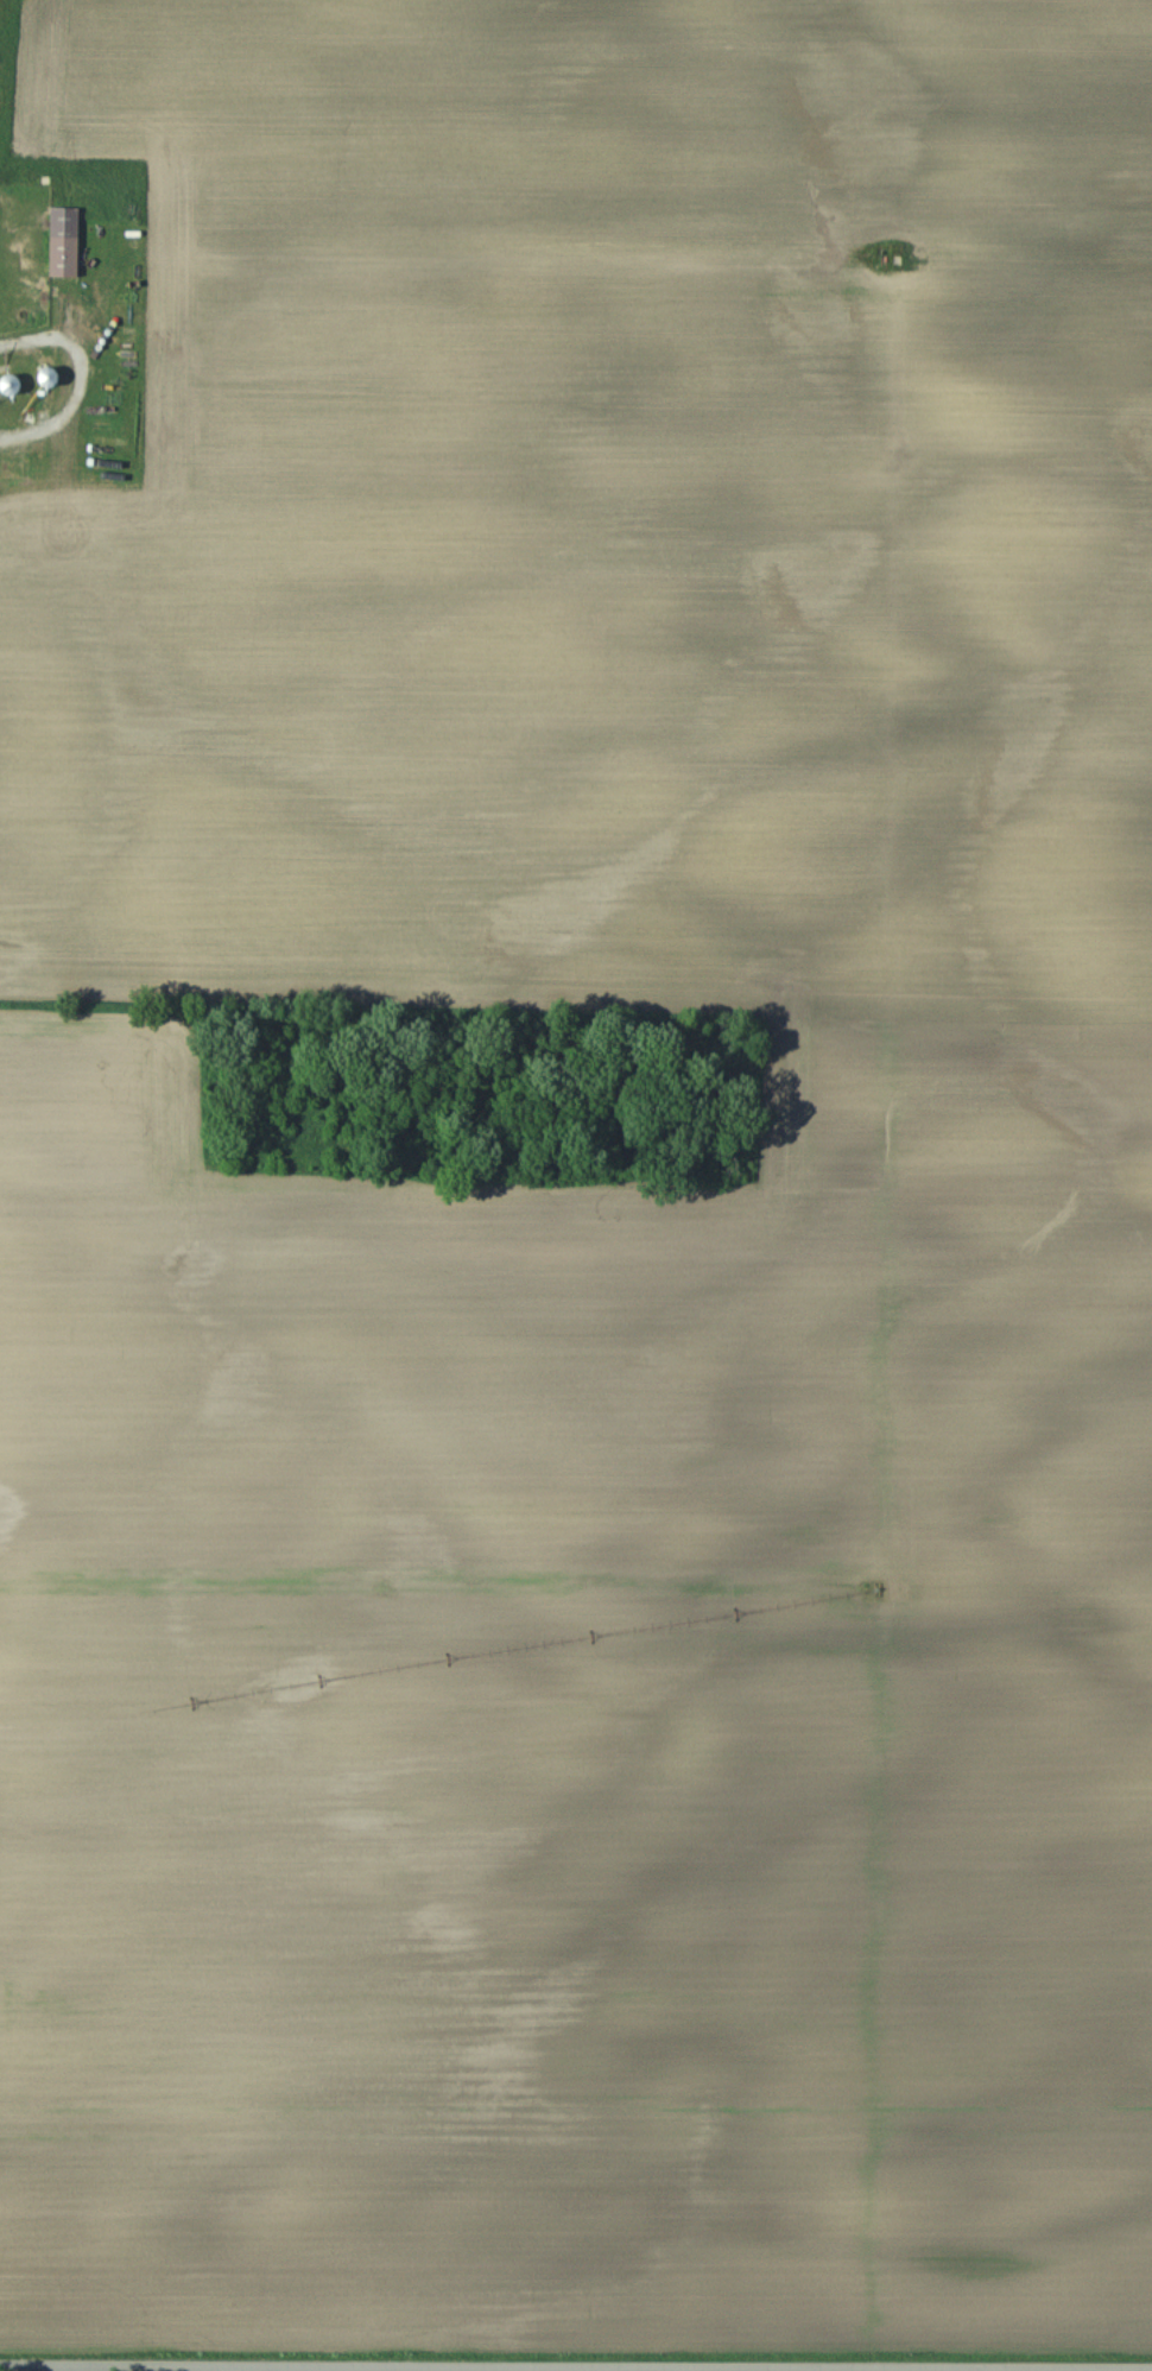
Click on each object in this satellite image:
building: (58, 240)
road: (86, 363)

